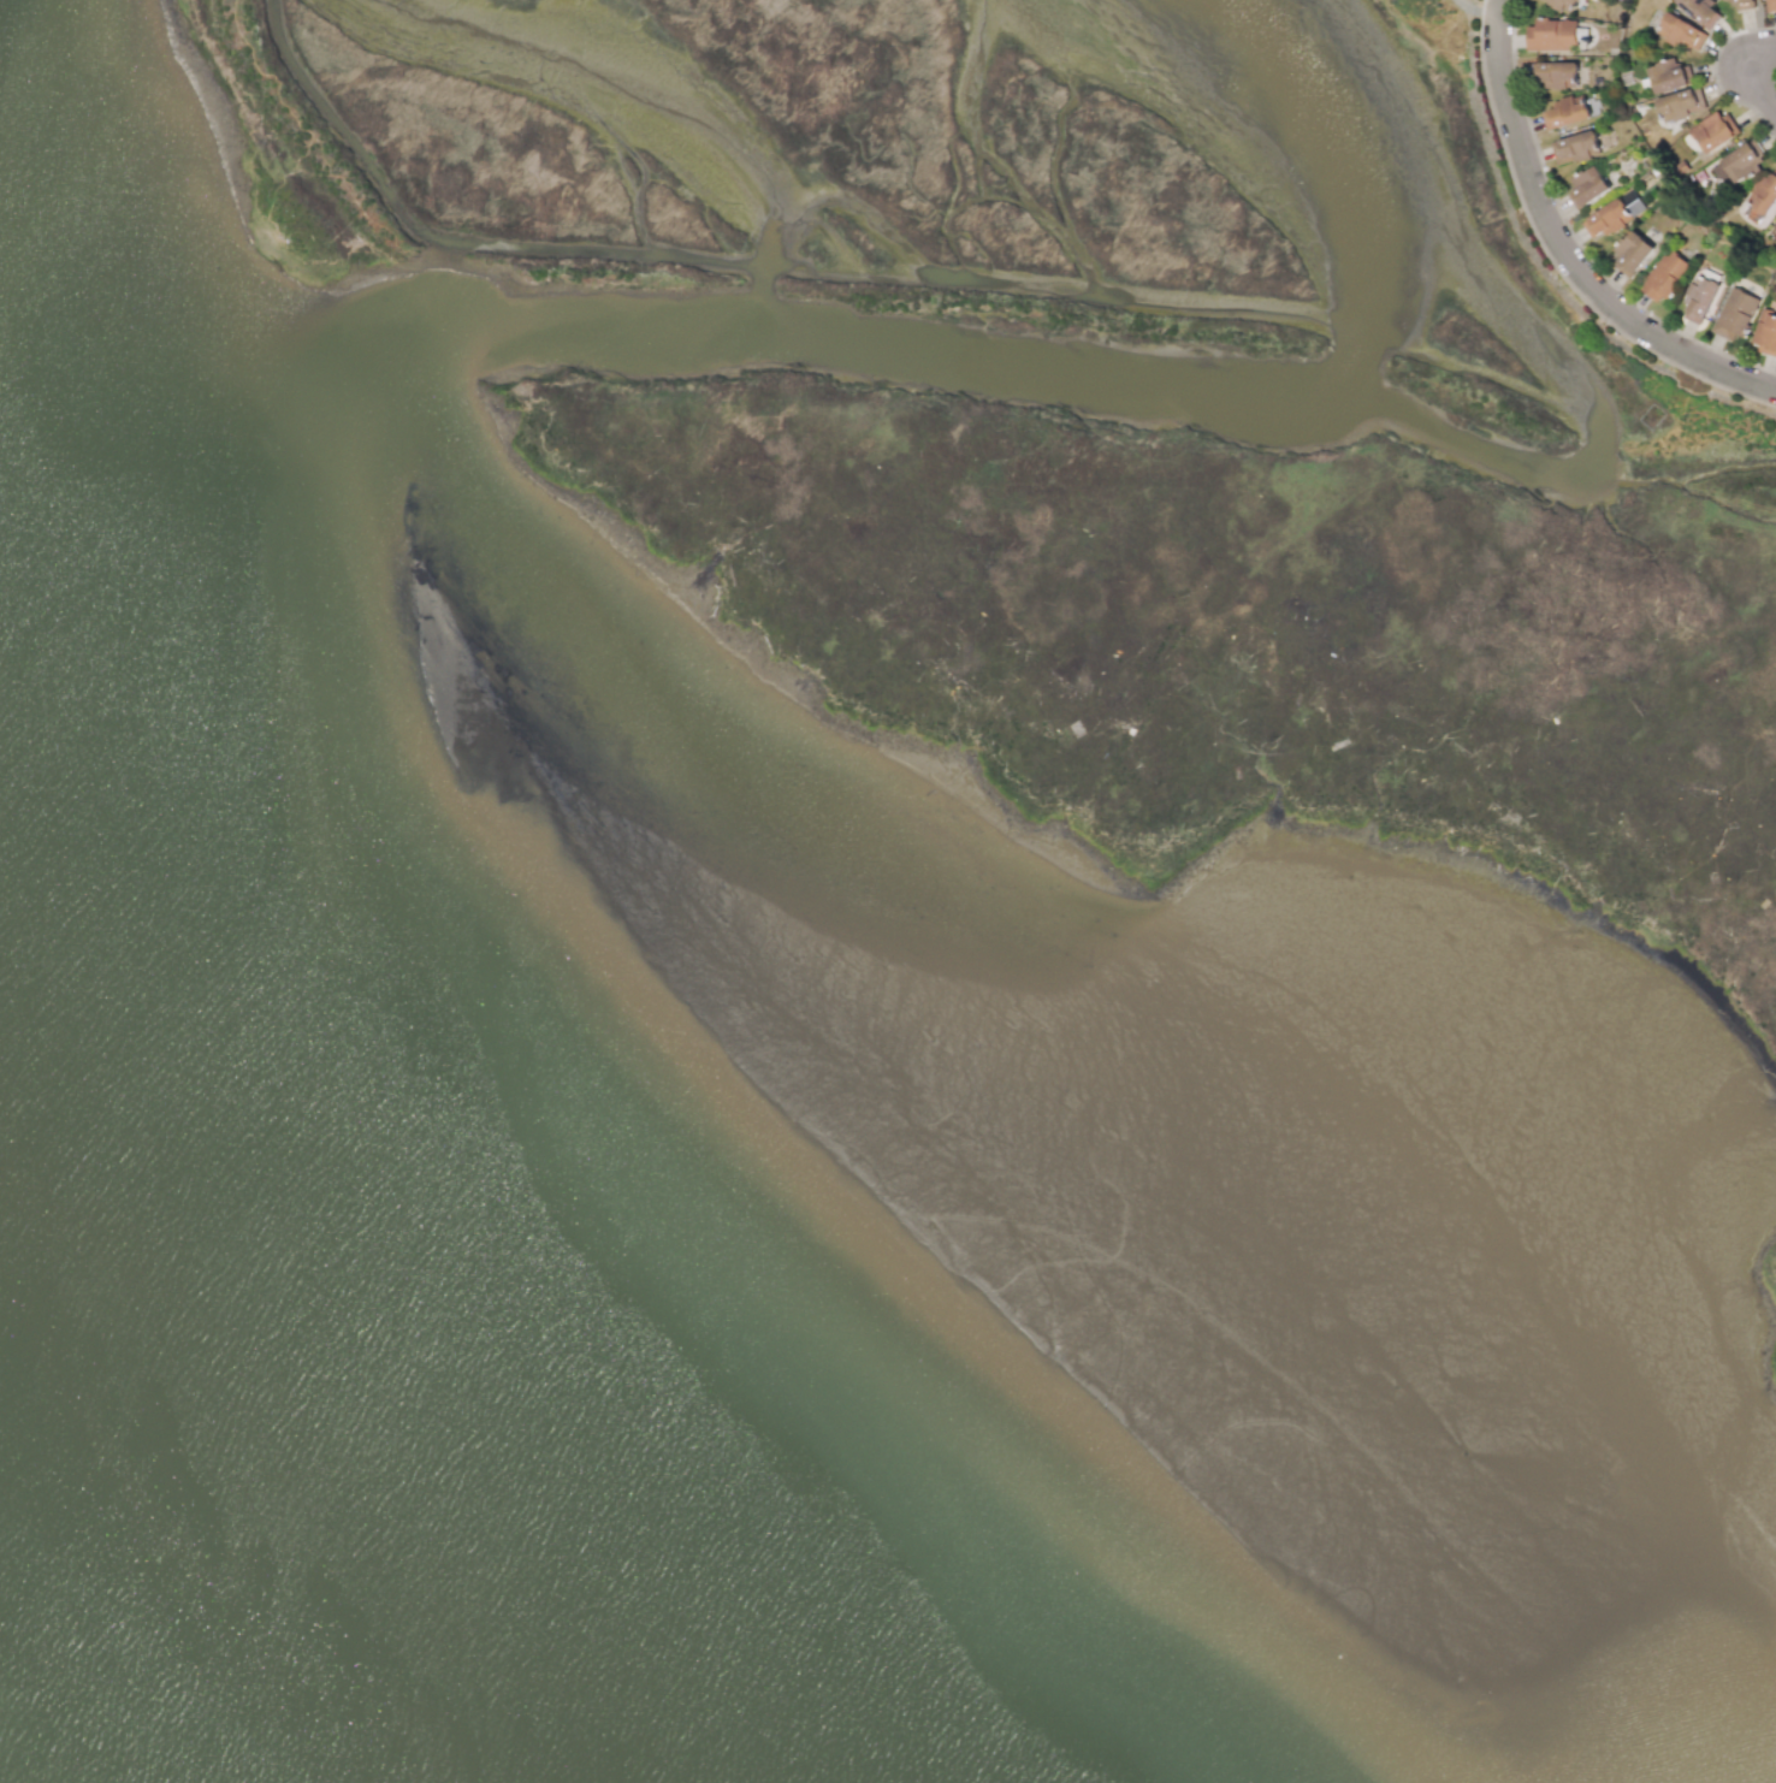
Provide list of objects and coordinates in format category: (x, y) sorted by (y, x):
building: (1727, 0)
building: (1561, 4)
building: (1742, 5)
building: (1770, 5)
building: (1700, 11)
building: (1680, 31)
building: (1552, 35)
building: (1553, 75)
building: (1669, 76)
road: (1753, 78)
building: (1679, 105)
building: (1564, 113)
building: (1712, 132)
building: (1575, 148)
building: (1737, 164)
building: (1588, 186)
building: (1763, 194)
building: (1614, 214)
building: (1775, 230)
building: (1775, 231)
road: (1563, 248)
building: (1630, 254)
building: (1664, 276)
building: (1699, 300)
building: (1735, 314)
building: (1765, 333)
river: (289, 1488)

